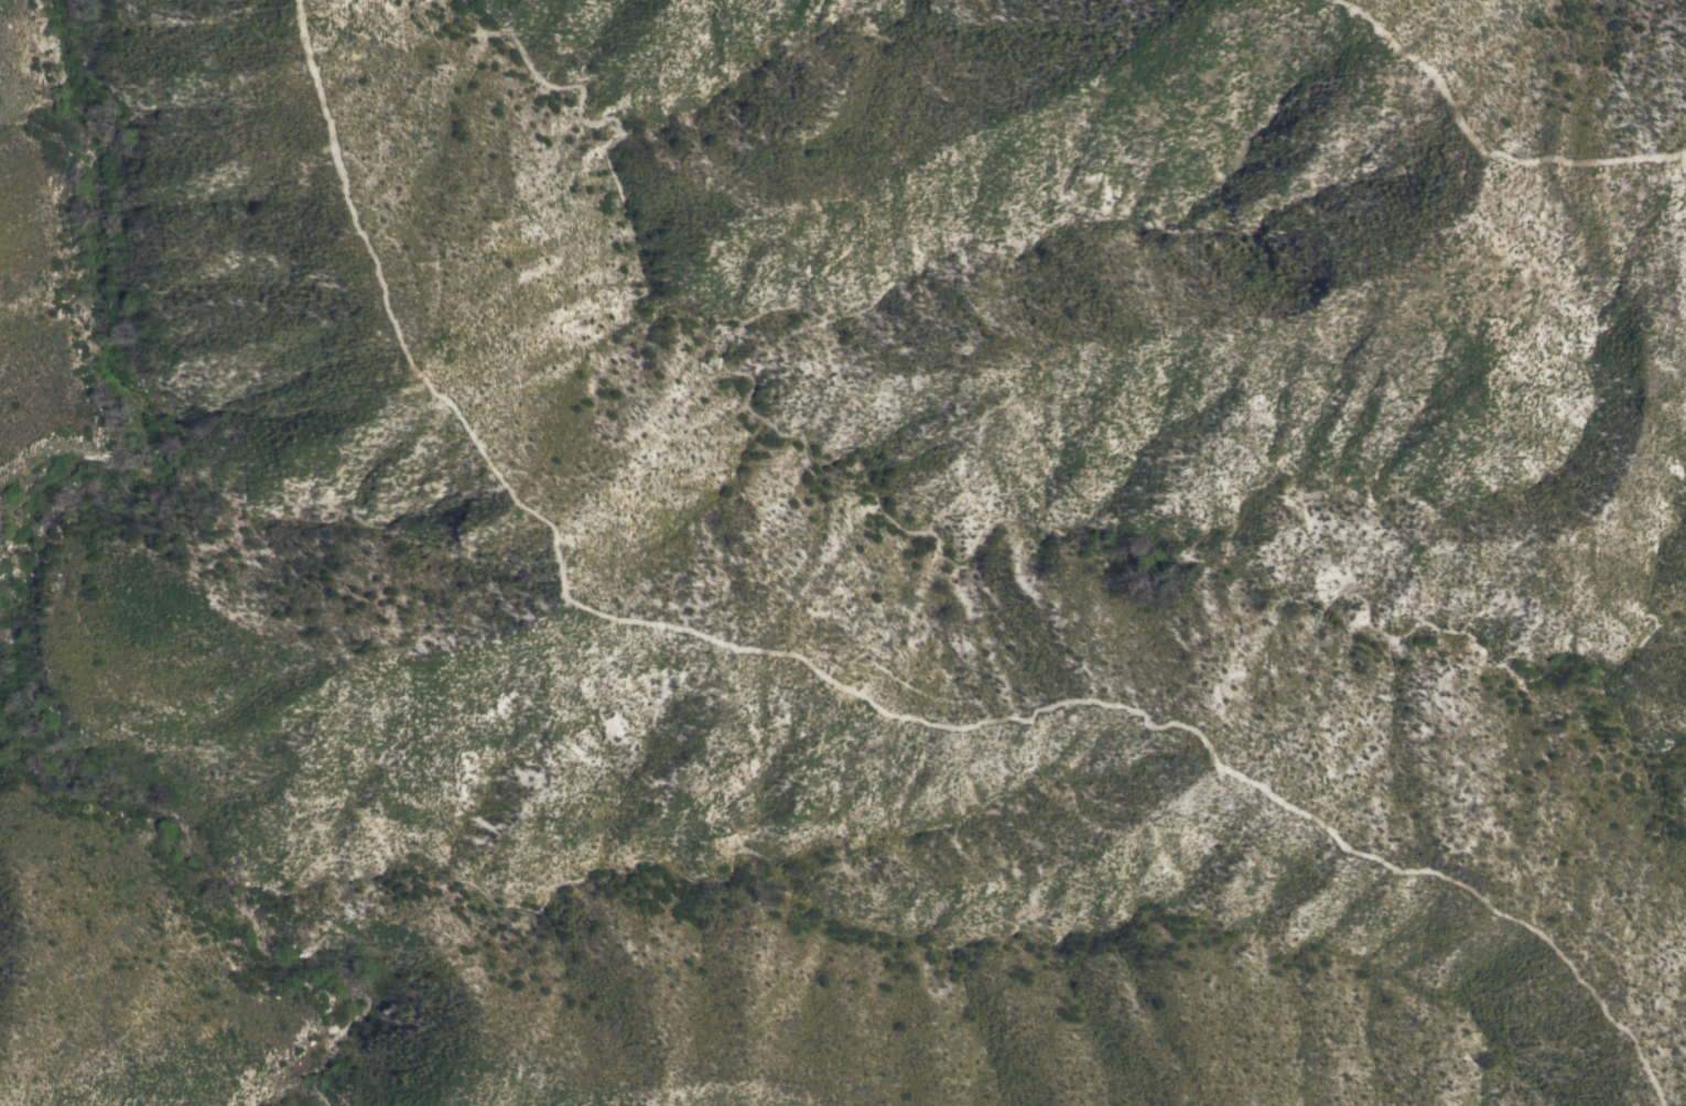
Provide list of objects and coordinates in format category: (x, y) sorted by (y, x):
road: (1606, 991)

